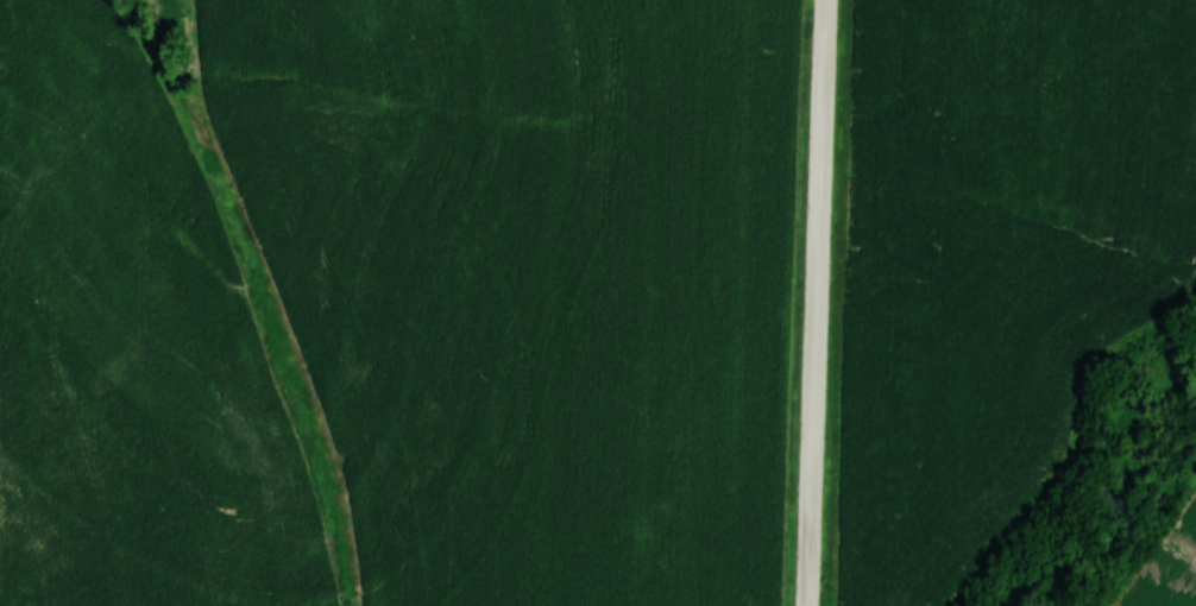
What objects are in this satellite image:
road: (816, 303)

